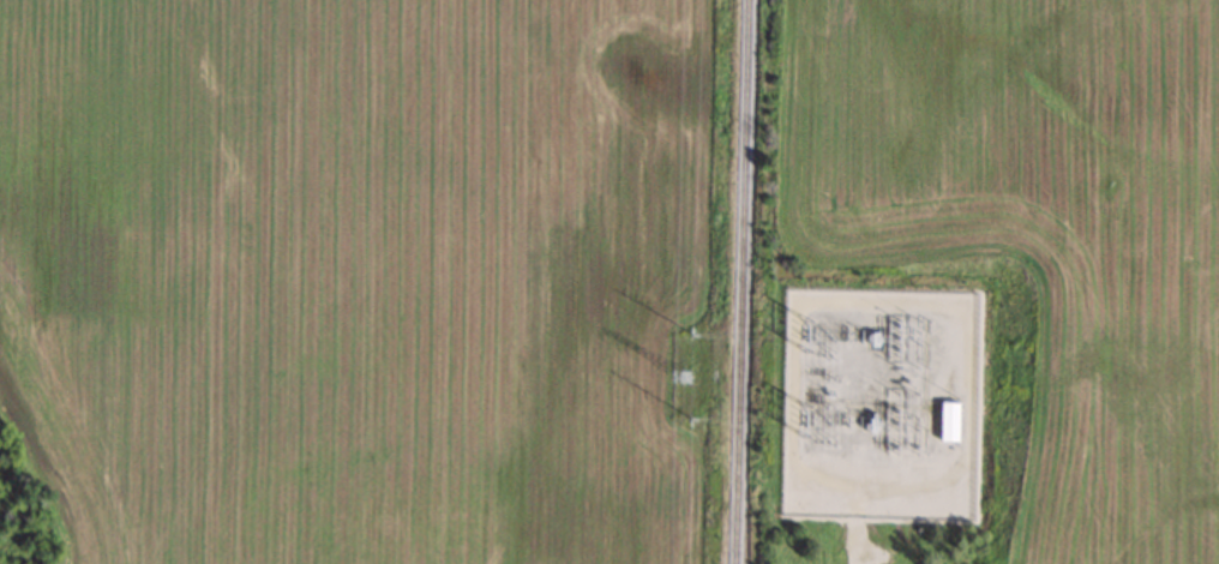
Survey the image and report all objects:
railway: (741, 282)
power tower: (803, 332)
power tower: (689, 334)
power tower: (678, 377)
power substation: (878, 404)
power tower: (801, 416)
power tower: (686, 419)
building: (945, 422)

